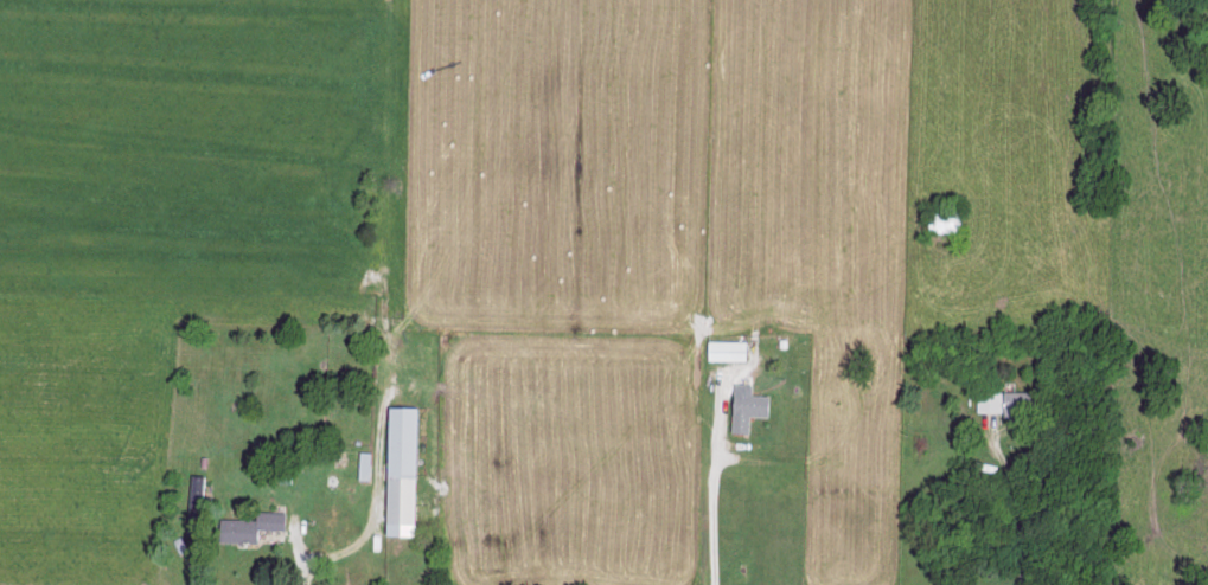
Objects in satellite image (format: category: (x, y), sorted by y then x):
building: (724, 348)
building: (1004, 400)
building: (746, 405)
building: (363, 463)
building: (397, 469)
road: (714, 490)
road: (1017, 508)
building: (254, 525)

